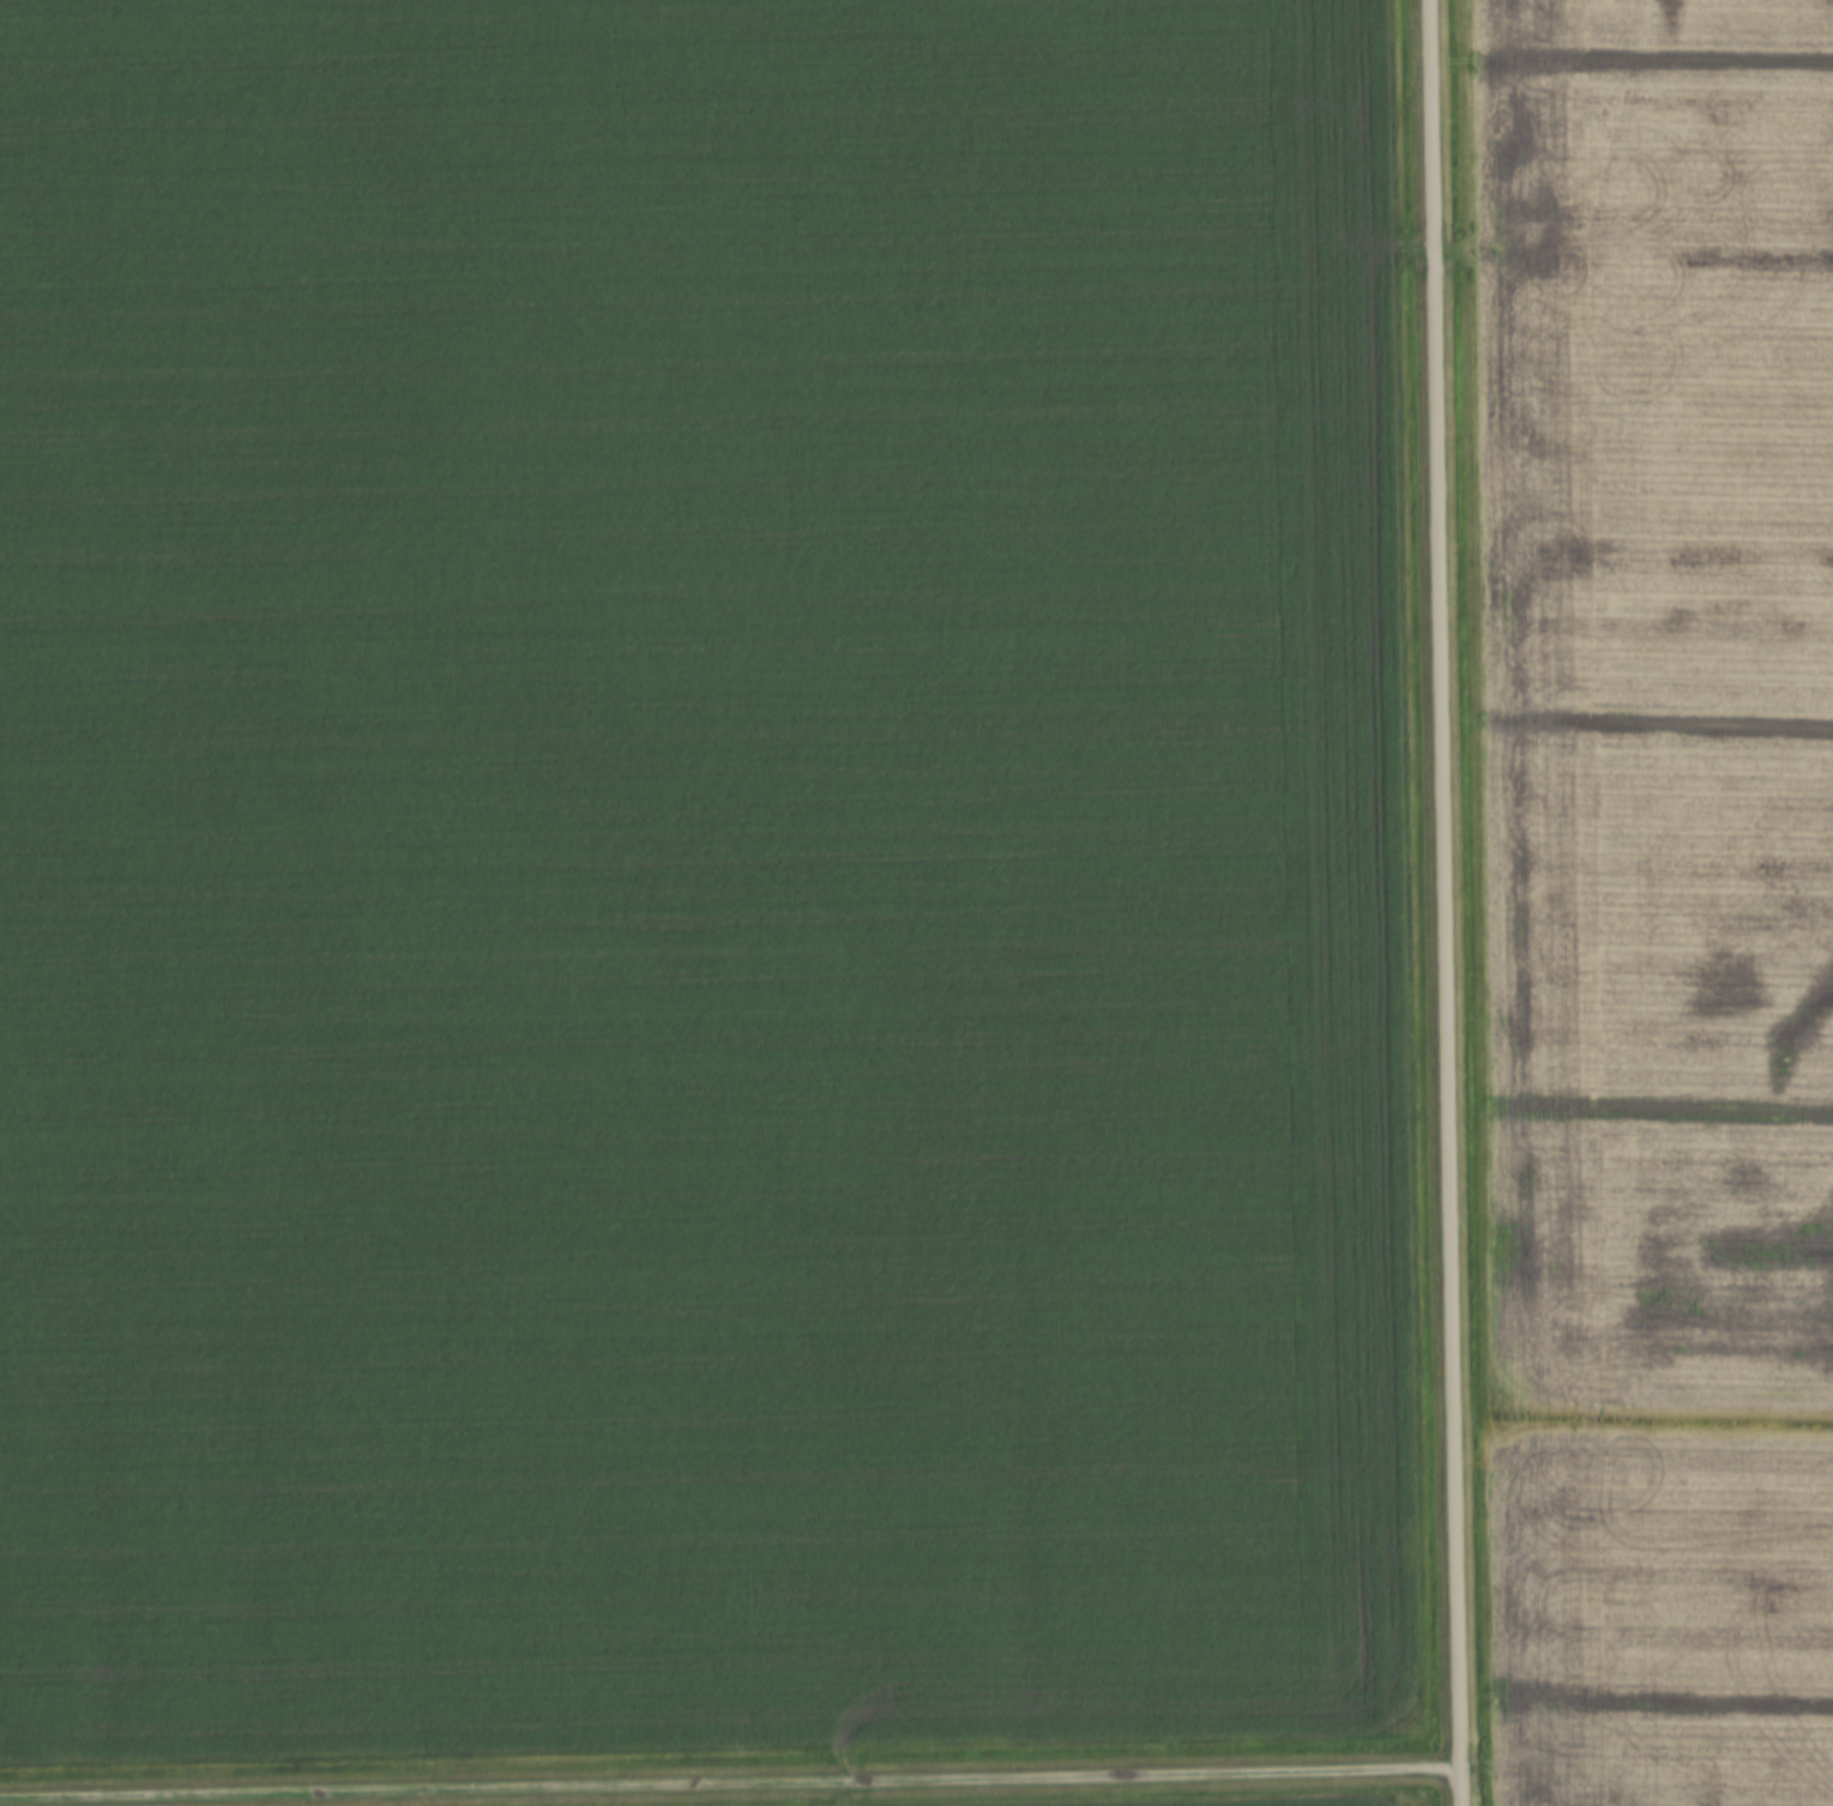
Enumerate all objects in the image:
road: (1423, 902)

